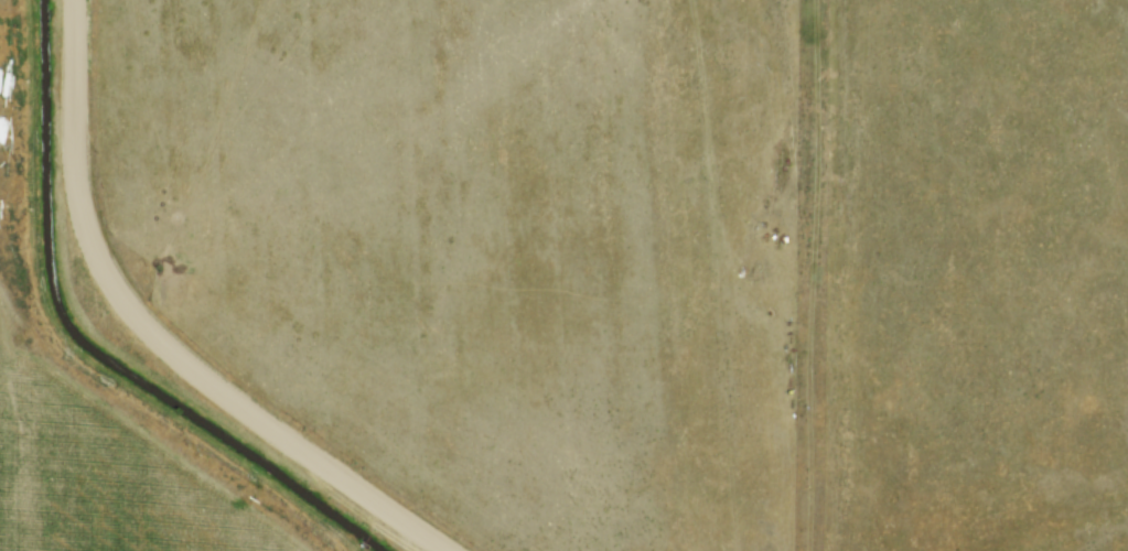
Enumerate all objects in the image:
road: (159, 336)

